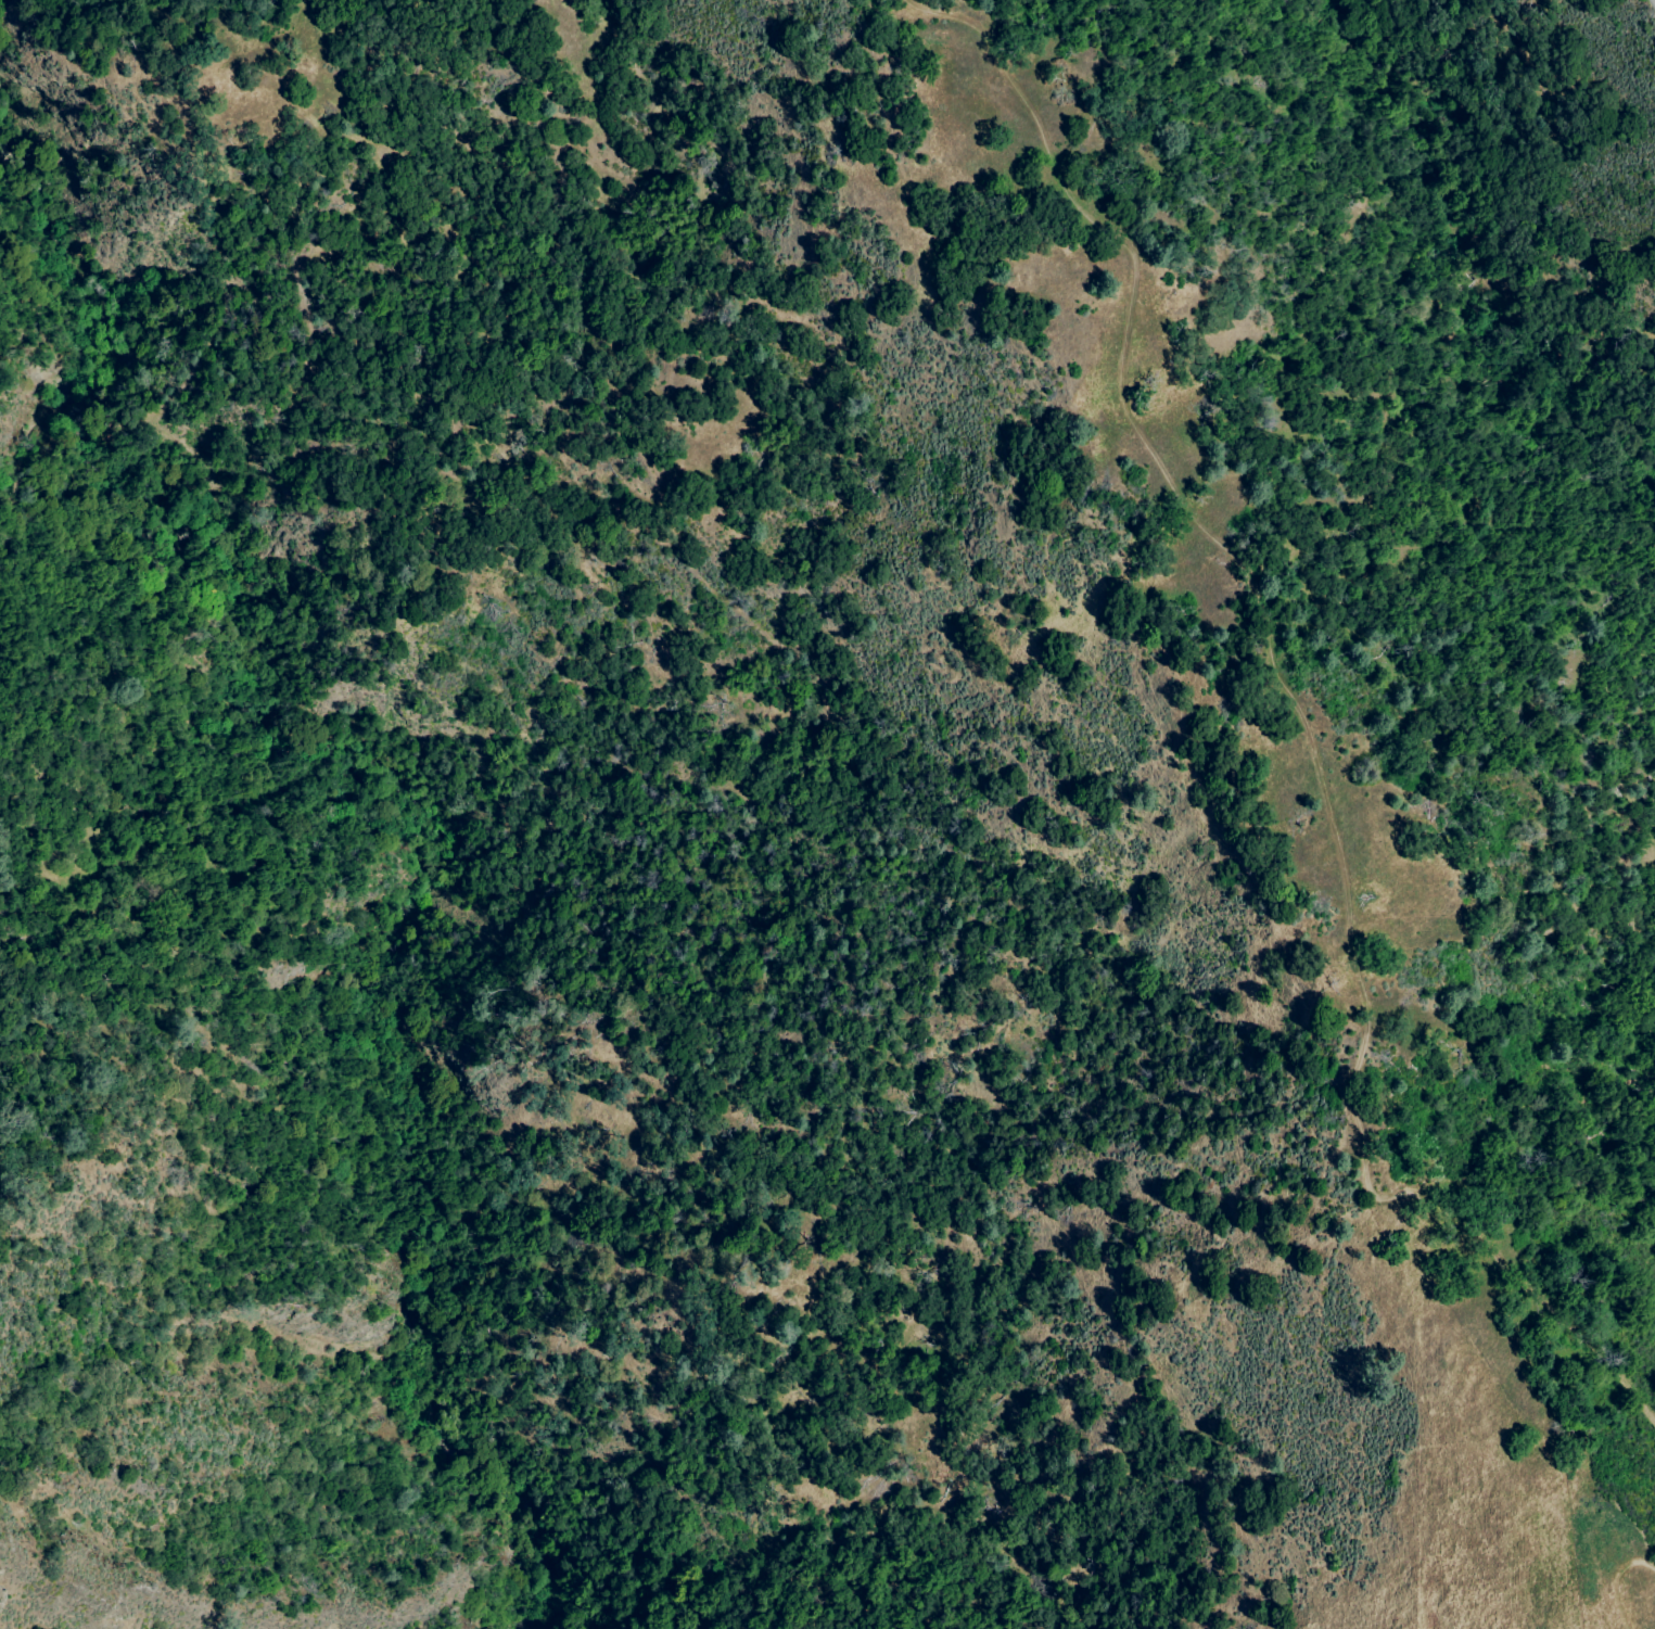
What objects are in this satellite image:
road: (1303, 717)
park: (191, 977)
road: (1618, 1582)

